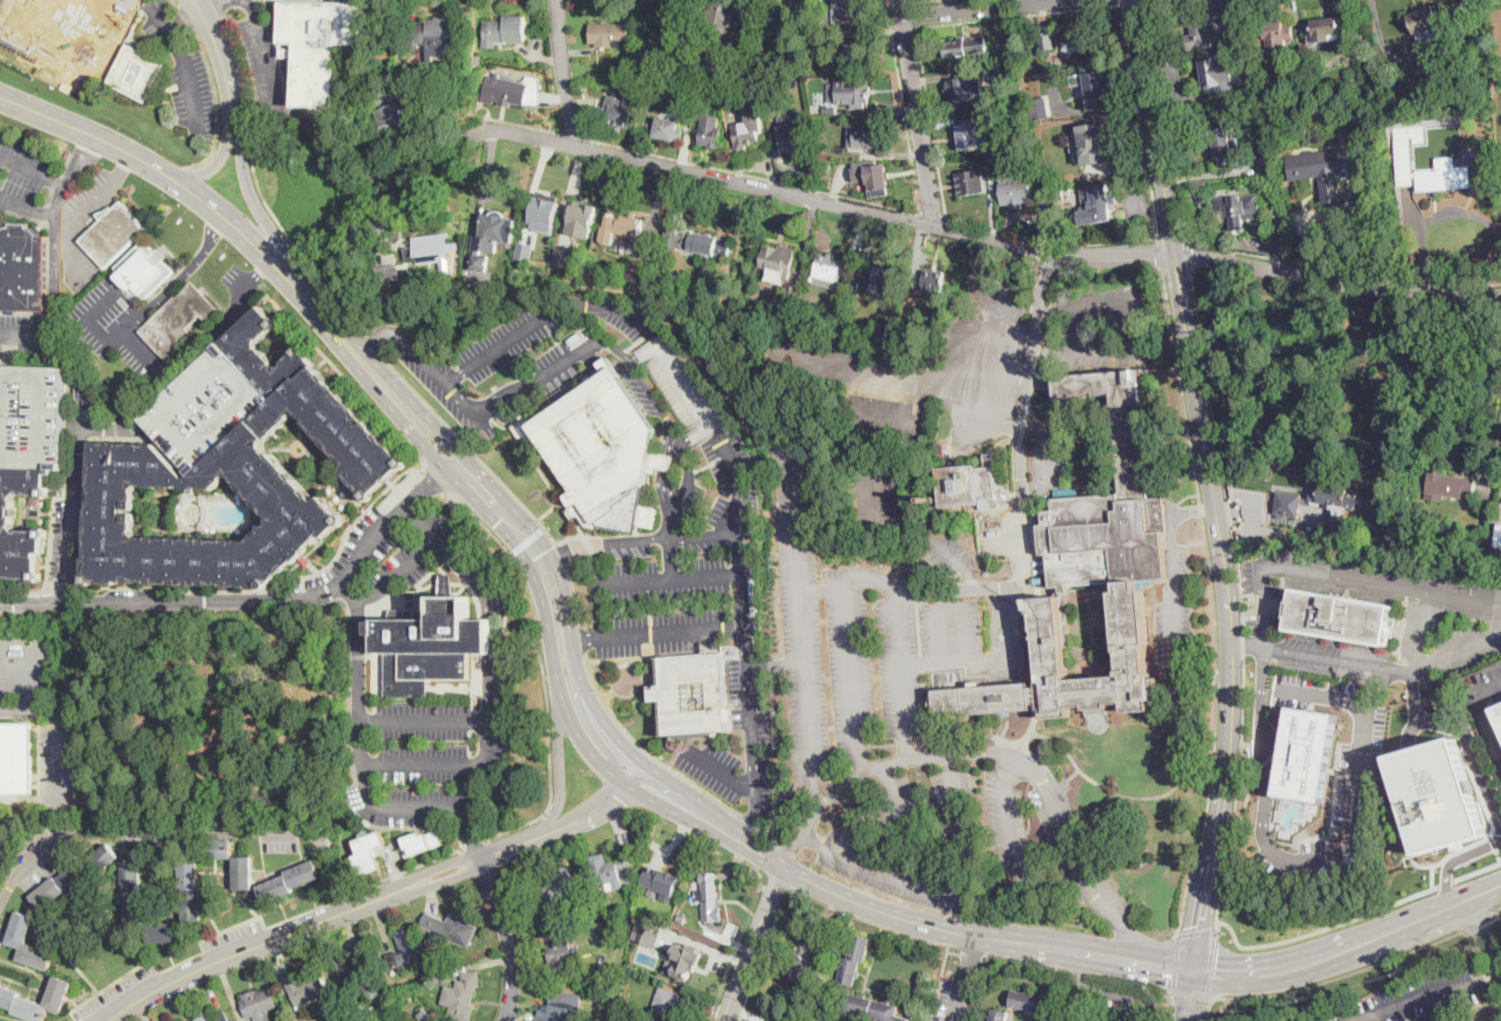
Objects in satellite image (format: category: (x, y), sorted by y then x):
road: (911, 0)
road: (916, 0)
road: (1122, 1)
road: (1135, 1)
building: (800, 3)
road: (179, 5)
road: (214, 6)
road: (219, 8)
road: (988, 9)
building: (843, 10)
road: (914, 13)
road: (1019, 14)
building: (720, 15)
building: (1429, 20)
road: (188, 21)
road: (187, 24)
road: (210, 27)
building: (1204, 27)
road: (903, 28)
building: (69, 29)
building: (506, 29)
building: (1326, 30)
building: (434, 33)
building: (610, 35)
building: (833, 35)
building: (1275, 36)
building: (1090, 38)
building: (1048, 40)
building: (668, 43)
building: (318, 45)
building: (965, 46)
building: (1017, 51)
building: (859, 52)
road: (268, 56)
building: (1252, 58)
parking lot: (263, 60)
building: (1499, 61)
road: (186, 67)
building: (1005, 71)
building: (137, 72)
road: (563, 74)
building: (1219, 74)
building: (1048, 81)
building: (965, 88)
building: (511, 90)
building: (1098, 90)
building: (849, 91)
building: (380, 95)
building: (1282, 95)
road: (216, 105)
building: (830, 110)
building: (618, 113)
road: (916, 113)
building: (993, 113)
building: (393, 117)
road: (1141, 120)
road: (1166, 121)
road: (523, 124)
building: (669, 127)
building: (748, 127)
road: (1155, 127)
building: (710, 130)
building: (1336, 131)
building: (865, 133)
road: (574, 134)
building: (970, 136)
building: (1224, 136)
building: (793, 137)
building: (1091, 143)
road: (224, 145)
building: (1406, 150)
building: (1007, 163)
building: (989, 164)
road: (156, 169)
road: (33, 171)
road: (119, 171)
road: (244, 172)
building: (1065, 172)
building: (1317, 172)
building: (872, 175)
parking lot: (22, 177)
building: (1444, 179)
building: (971, 181)
building: (1199, 182)
building: (1226, 182)
building: (1257, 182)
road: (258, 188)
road: (772, 190)
parking lot: (85, 193)
building: (1016, 194)
building: (1056, 195)
road: (857, 198)
building: (1201, 198)
building: (1099, 205)
road: (28, 206)
building: (1236, 209)
building: (544, 211)
road: (933, 214)
building: (582, 217)
road: (1428, 220)
road: (956, 221)
road: (1306, 225)
road: (70, 226)
building: (629, 228)
road: (56, 232)
building: (112, 233)
building: (491, 239)
building: (696, 241)
building: (644, 246)
building: (431, 249)
building: (524, 250)
road: (1162, 253)
building: (561, 256)
building: (778, 260)
road: (1189, 260)
parking lot: (79, 266)
building: (831, 267)
building: (145, 268)
road: (1343, 271)
road: (185, 272)
building: (24, 273)
building: (387, 273)
building: (878, 276)
building: (933, 281)
road: (1338, 281)
building: (855, 284)
building: (792, 293)
road: (1005, 297)
parking lot: (122, 316)
road: (544, 316)
road: (323, 317)
building: (178, 320)
road: (221, 323)
road: (94, 327)
road: (26, 336)
parking lot: (27, 336)
road: (990, 337)
road: (1141, 338)
road: (370, 343)
road: (371, 343)
road: (144, 353)
road: (907, 367)
building: (683, 386)
road: (368, 402)
road: (492, 406)
building: (206, 407)
parking lot: (206, 407)
road: (991, 408)
road: (405, 409)
building: (32, 415)
parking lot: (32, 415)
road: (108, 429)
road: (1023, 429)
road: (674, 434)
road: (980, 435)
building: (127, 443)
road: (474, 452)
building: (601, 452)
road: (1494, 463)
road: (1049, 466)
road: (435, 481)
road: (738, 483)
building: (968, 483)
building: (1450, 486)
building: (1065, 491)
road: (1035, 492)
building: (1337, 496)
building: (1289, 503)
building: (1491, 505)
building: (8, 510)
road: (1190, 511)
road: (72, 513)
road: (479, 518)
traffic signals: (503, 518)
road: (422, 527)
road: (513, 528)
road: (921, 532)
building: (1499, 537)
road: (529, 538)
parking lot: (59, 540)
road: (623, 541)
road: (795, 542)
parking lot: (57, 546)
road: (562, 552)
road: (556, 553)
traffic signals: (535, 557)
road: (671, 558)
parking lot: (350, 559)
road: (1306, 574)
road: (398, 577)
road: (861, 577)
road: (674, 580)
building: (1089, 584)
road: (503, 588)
road: (331, 589)
road: (1175, 589)
road: (952, 591)
road: (575, 593)
road: (1429, 596)
road: (131, 599)
road: (52, 601)
road: (1241, 602)
road: (1214, 603)
building: (1342, 616)
road: (939, 617)
road: (1226, 618)
road: (490, 625)
road: (745, 629)
road: (669, 630)
building: (758, 632)
road: (582, 638)
road: (581, 642)
building: (431, 644)
road: (1247, 646)
road: (357, 648)
road: (1459, 654)
road: (1010, 655)
road: (1341, 659)
road: (777, 664)
parking lot: (23, 666)
road: (3, 674)
road: (32, 674)
road: (1381, 684)
road: (1490, 687)
road: (808, 689)
building: (692, 694)
building: (1498, 713)
park: (211, 716)
road: (411, 720)
road: (590, 728)
road: (1463, 733)
parking lot: (758, 734)
road: (60, 735)
road: (996, 735)
road: (1491, 740)
road: (622, 741)
road: (547, 745)
road: (646, 749)
parking lot: (61, 754)
building: (1308, 754)
road: (919, 757)
building: (16, 758)
road: (560, 764)
road: (721, 773)
road: (616, 776)
road: (1092, 778)
road: (668, 790)
road: (817, 795)
building: (1437, 795)
road: (1245, 814)
road: (752, 815)
road: (30, 819)
road: (182, 831)
parking lot: (149, 839)
parking lot: (5, 841)
building: (421, 841)
parking lot: (280, 842)
road: (813, 842)
road: (1494, 842)
road: (472, 843)
road: (475, 843)
road: (943, 846)
road: (764, 848)
road: (1014, 848)
building: (216, 849)
road: (794, 849)
building: (368, 850)
road: (1499, 853)
parking lot: (43, 855)
road: (1459, 857)
road: (1071, 859)
road: (1326, 860)
road: (783, 866)
road: (404, 870)
road: (1477, 870)
building: (243, 872)
building: (610, 872)
road: (893, 872)
parking lot: (894, 873)
building: (75, 876)
building: (290, 881)
building: (666, 881)
road: (1446, 883)
building: (191, 888)
building: (559, 892)
building: (133, 894)
road: (338, 897)
building: (709, 897)
road: (367, 902)
road: (1496, 909)
road: (1498, 917)
road: (1479, 921)
traffic signals: (1200, 922)
road: (971, 928)
road: (1323, 928)
building: (450, 929)
building: (20, 930)
road: (1128, 931)
road: (1196, 931)
road: (1487, 932)
building: (164, 933)
building: (647, 933)
road: (509, 938)
road: (1338, 939)
road: (752, 946)
building: (405, 949)
road: (199, 953)
building: (562, 954)
building: (855, 959)
building: (682, 960)
building: (801, 961)
traffic signals: (1217, 962)
road: (759, 964)
road: (1210, 965)
road: (1174, 966)
building: (350, 970)
road: (1081, 971)
road: (1484, 971)
road: (1142, 974)
road: (1339, 974)
building: (448, 975)
road: (968, 975)
road: (1082, 976)
building: (437, 979)
traffic signals: (1169, 979)
road: (1487, 980)
building: (305, 989)
building: (462, 993)
road: (1116, 995)
road: (1415, 998)
building: (15, 999)
parking lot: (1404, 999)
road: (1191, 1000)
building: (1030, 1001)
building: (258, 1002)
road: (1190, 1002)
building: (666, 1005)
building: (875, 1008)
road: (1172, 1009)
building: (559, 1010)
traffic signals: (1188, 1011)
road: (1209, 1012)
building: (999, 1015)
building: (426, 1016)
building: (213, 1017)
building: (539, 1020)
building: (1049, 1020)
building: (1474, 1020)

